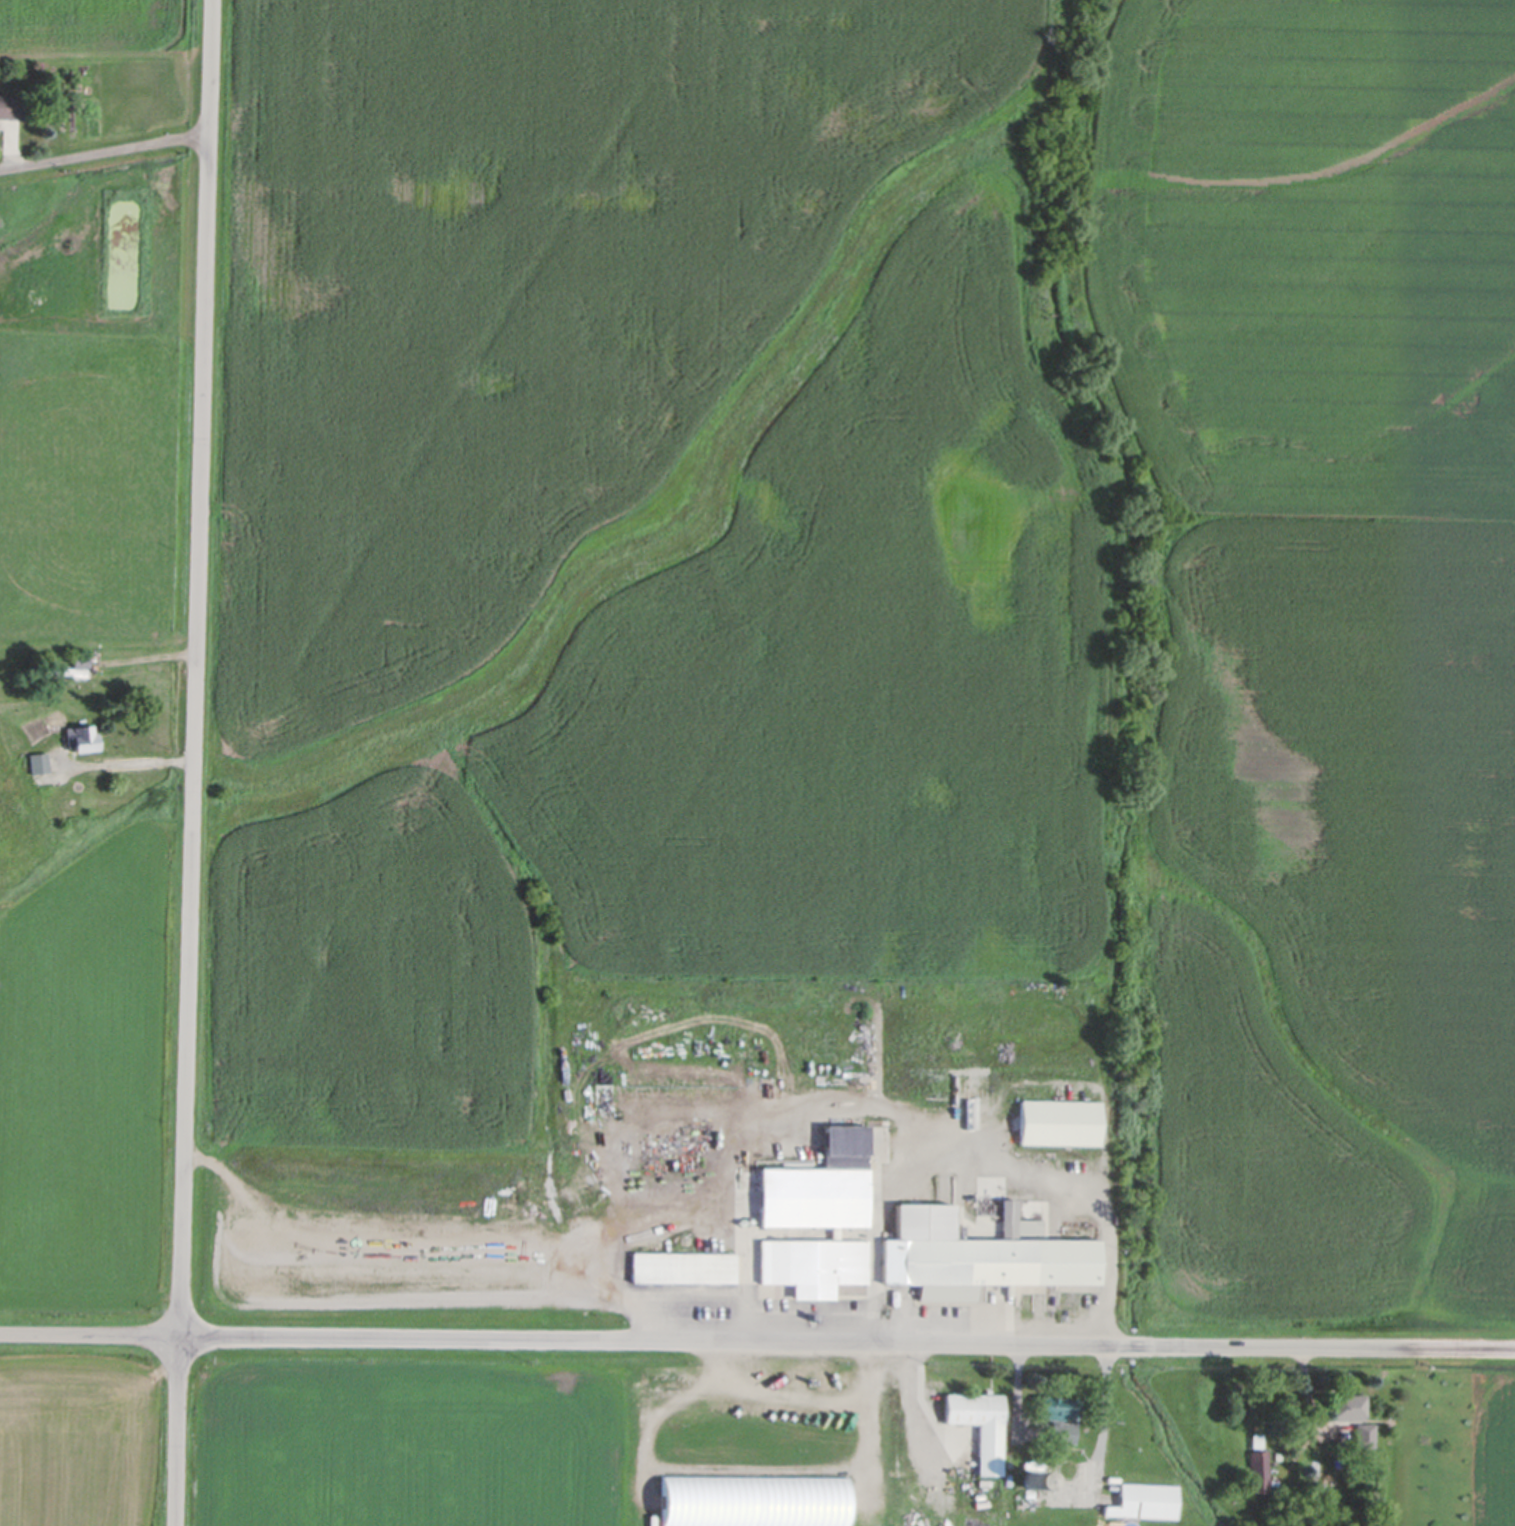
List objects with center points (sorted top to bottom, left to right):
building: (11, 107)
road: (105, 154)
building: (80, 662)
building: (81, 740)
road: (194, 762)
building: (39, 764)
road: (731, 1123)
building: (1059, 1126)
road: (974, 1157)
building: (818, 1221)
building: (540, 1240)
road: (444, 1245)
building: (978, 1259)
building: (683, 1270)
road: (757, 1345)
building: (1345, 1412)
building: (1059, 1422)
building: (980, 1429)
building: (1363, 1438)
building: (1256, 1443)
road: (1062, 1473)
building: (1259, 1474)
building: (1031, 1480)
building: (754, 1503)
building: (1146, 1504)

